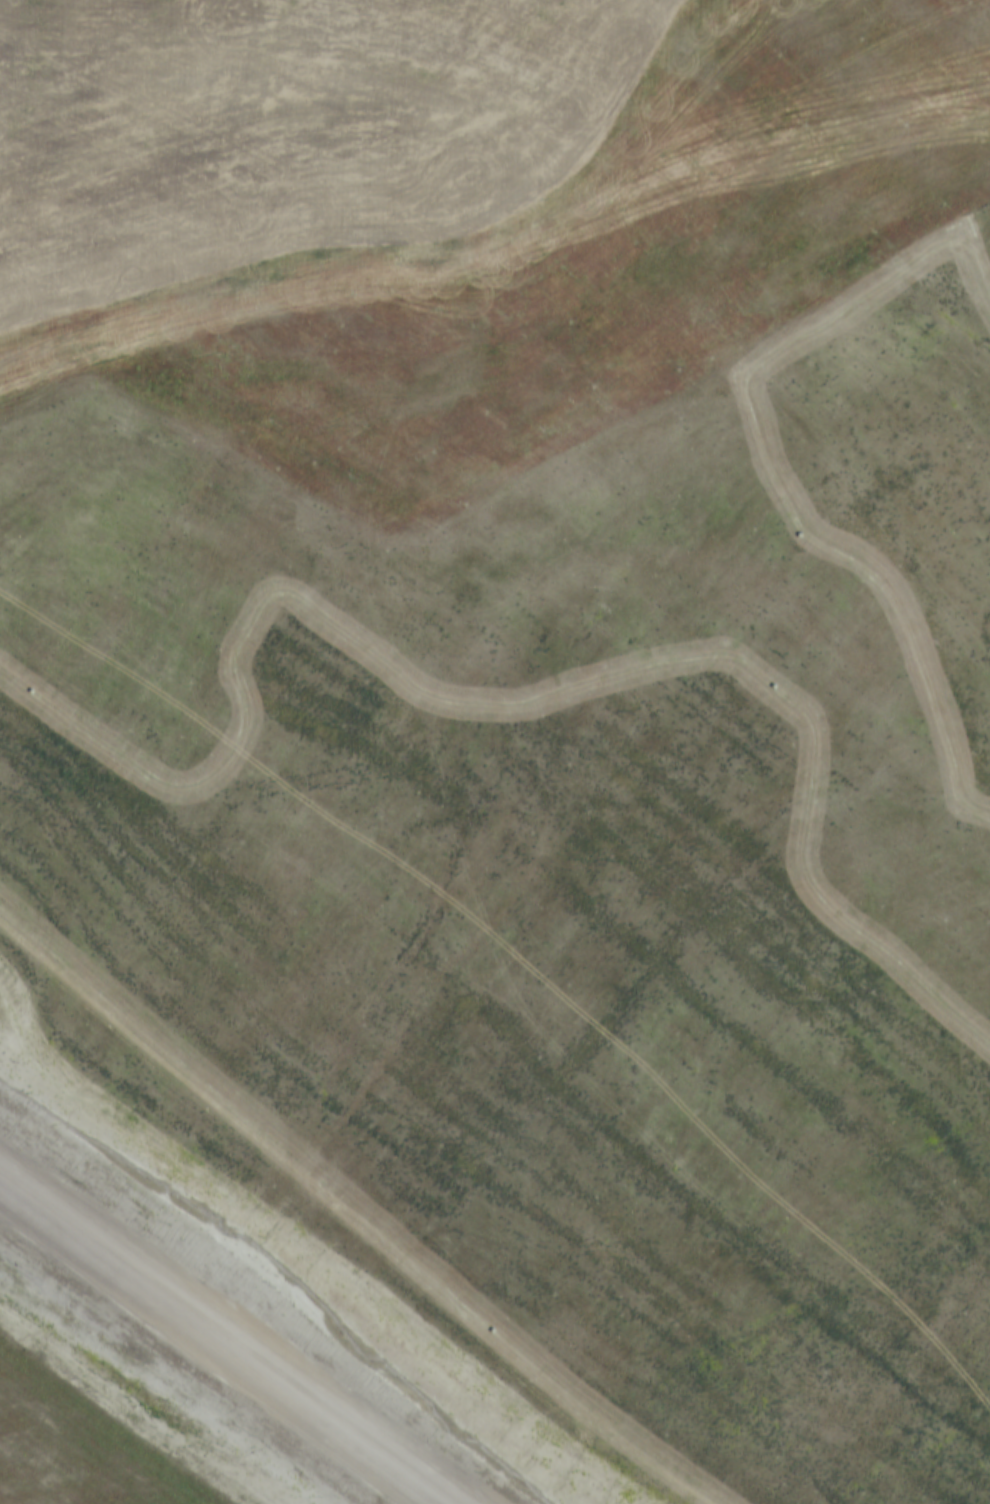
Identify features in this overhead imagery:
quarry: (579, 399)

